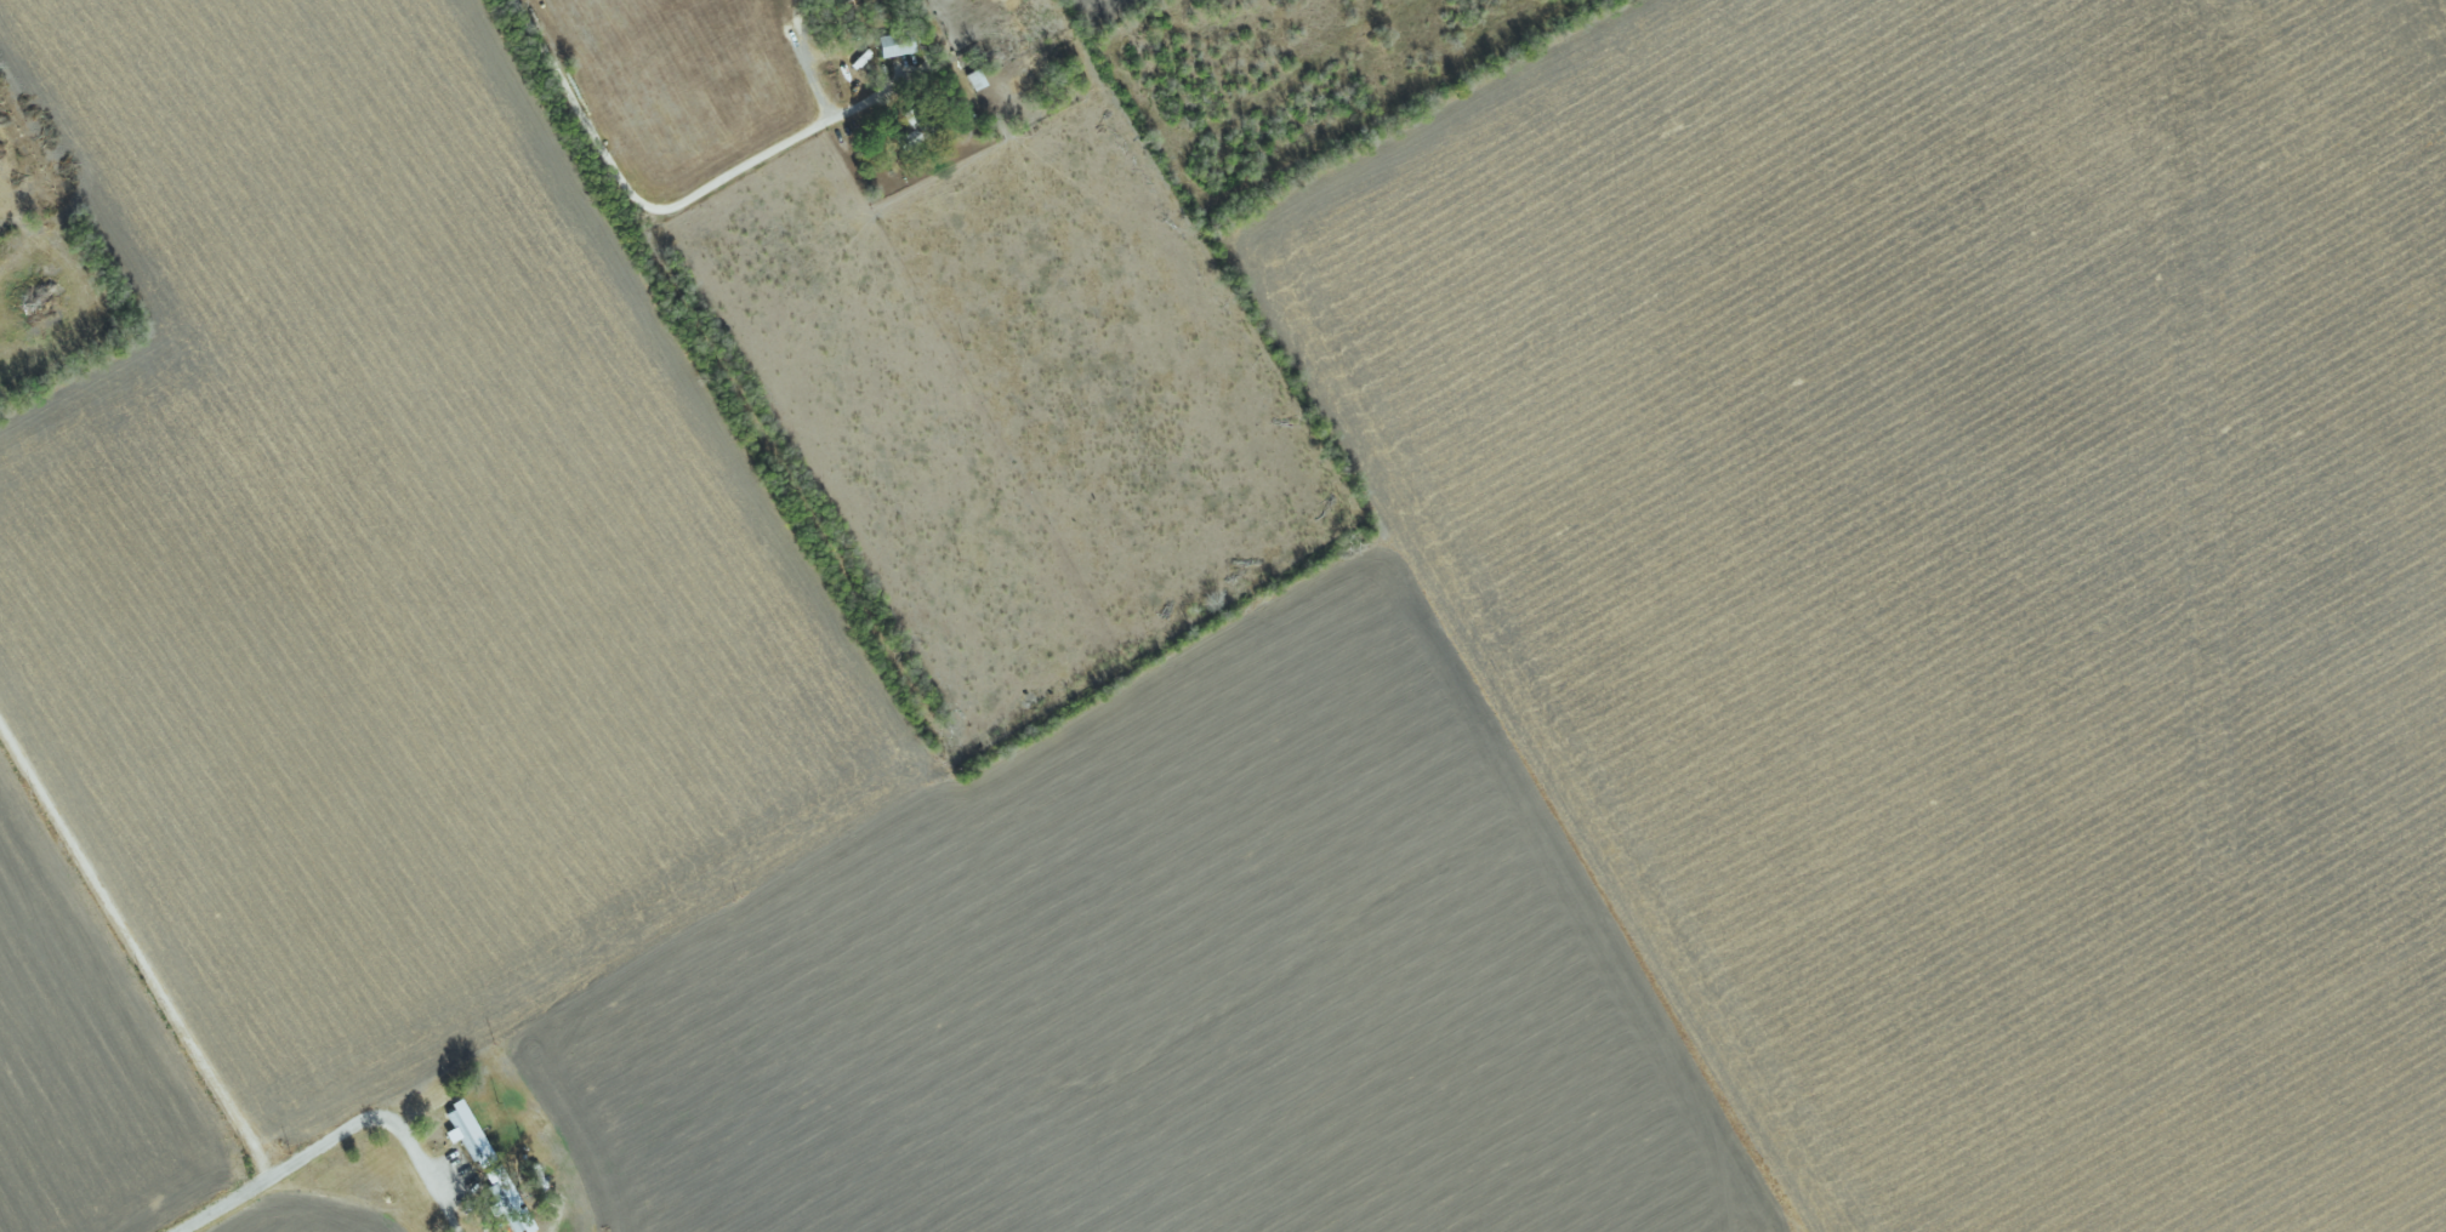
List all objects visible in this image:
building: (897, 44)
road: (686, 182)
road: (160, 992)
road: (380, 1118)
building: (470, 1134)
building: (507, 1199)

